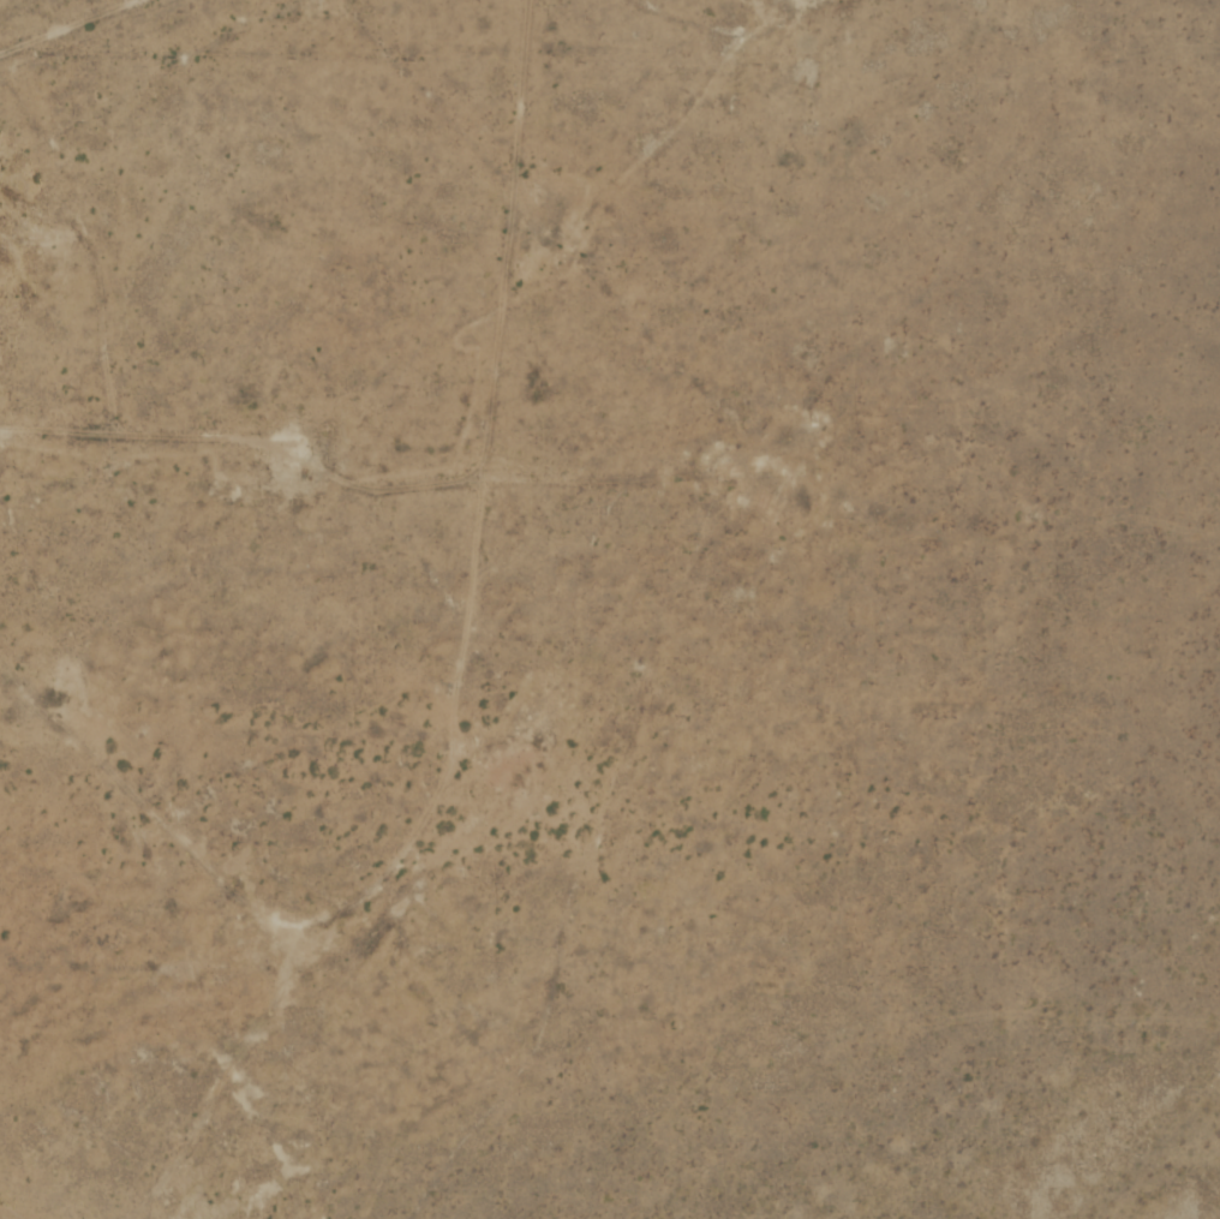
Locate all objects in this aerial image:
road: (52, 20)
road: (503, 233)
road: (86, 247)
road: (249, 442)
road: (594, 484)

